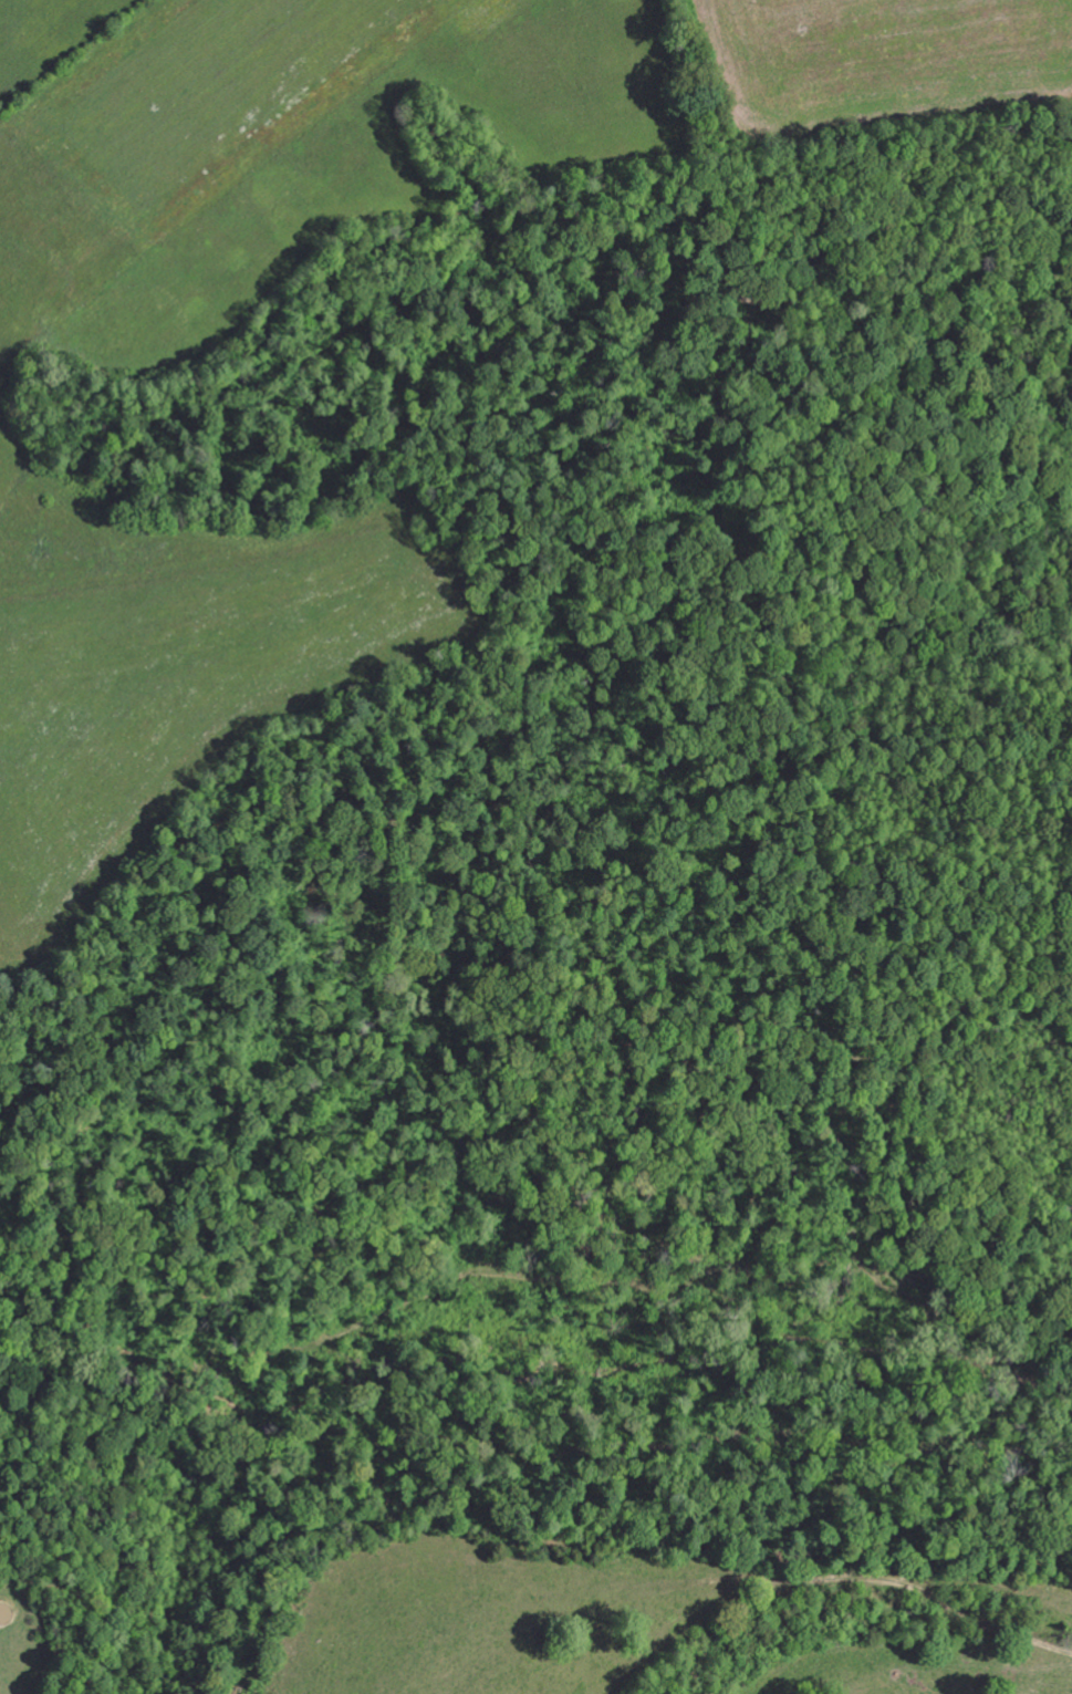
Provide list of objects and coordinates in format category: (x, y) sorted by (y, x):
road: (37, 177)

